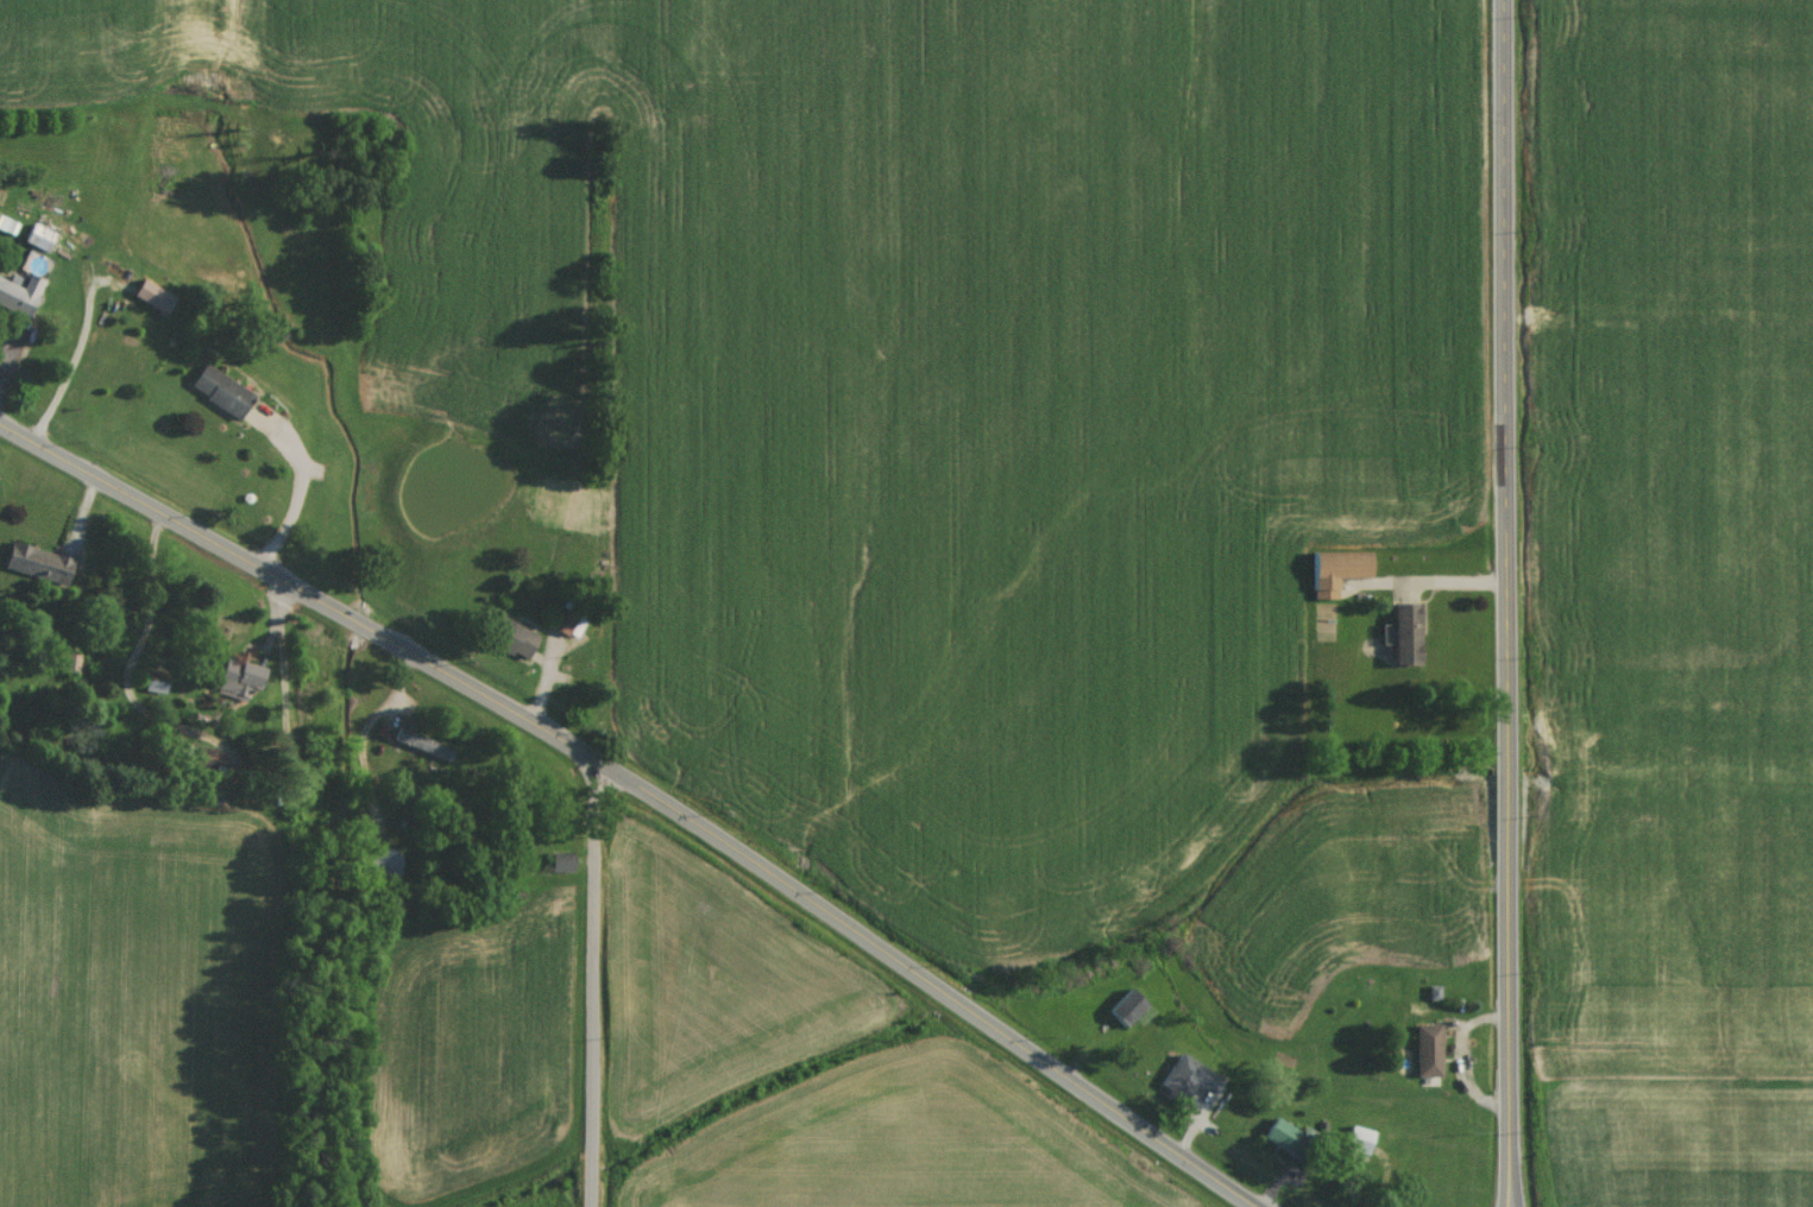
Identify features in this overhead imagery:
building: (34, 242)
building: (17, 301)
building: (149, 301)
building: (215, 396)
road: (301, 489)
building: (34, 569)
building: (1330, 575)
road: (1505, 603)
building: (559, 626)
building: (1400, 639)
building: (506, 643)
road: (138, 649)
building: (69, 669)
building: (233, 684)
building: (420, 750)
road: (642, 788)
building: (380, 867)
building: (556, 867)
road: (602, 985)
building: (1122, 1013)
building: (1423, 1055)
building: (1183, 1083)
building: (1355, 1145)

